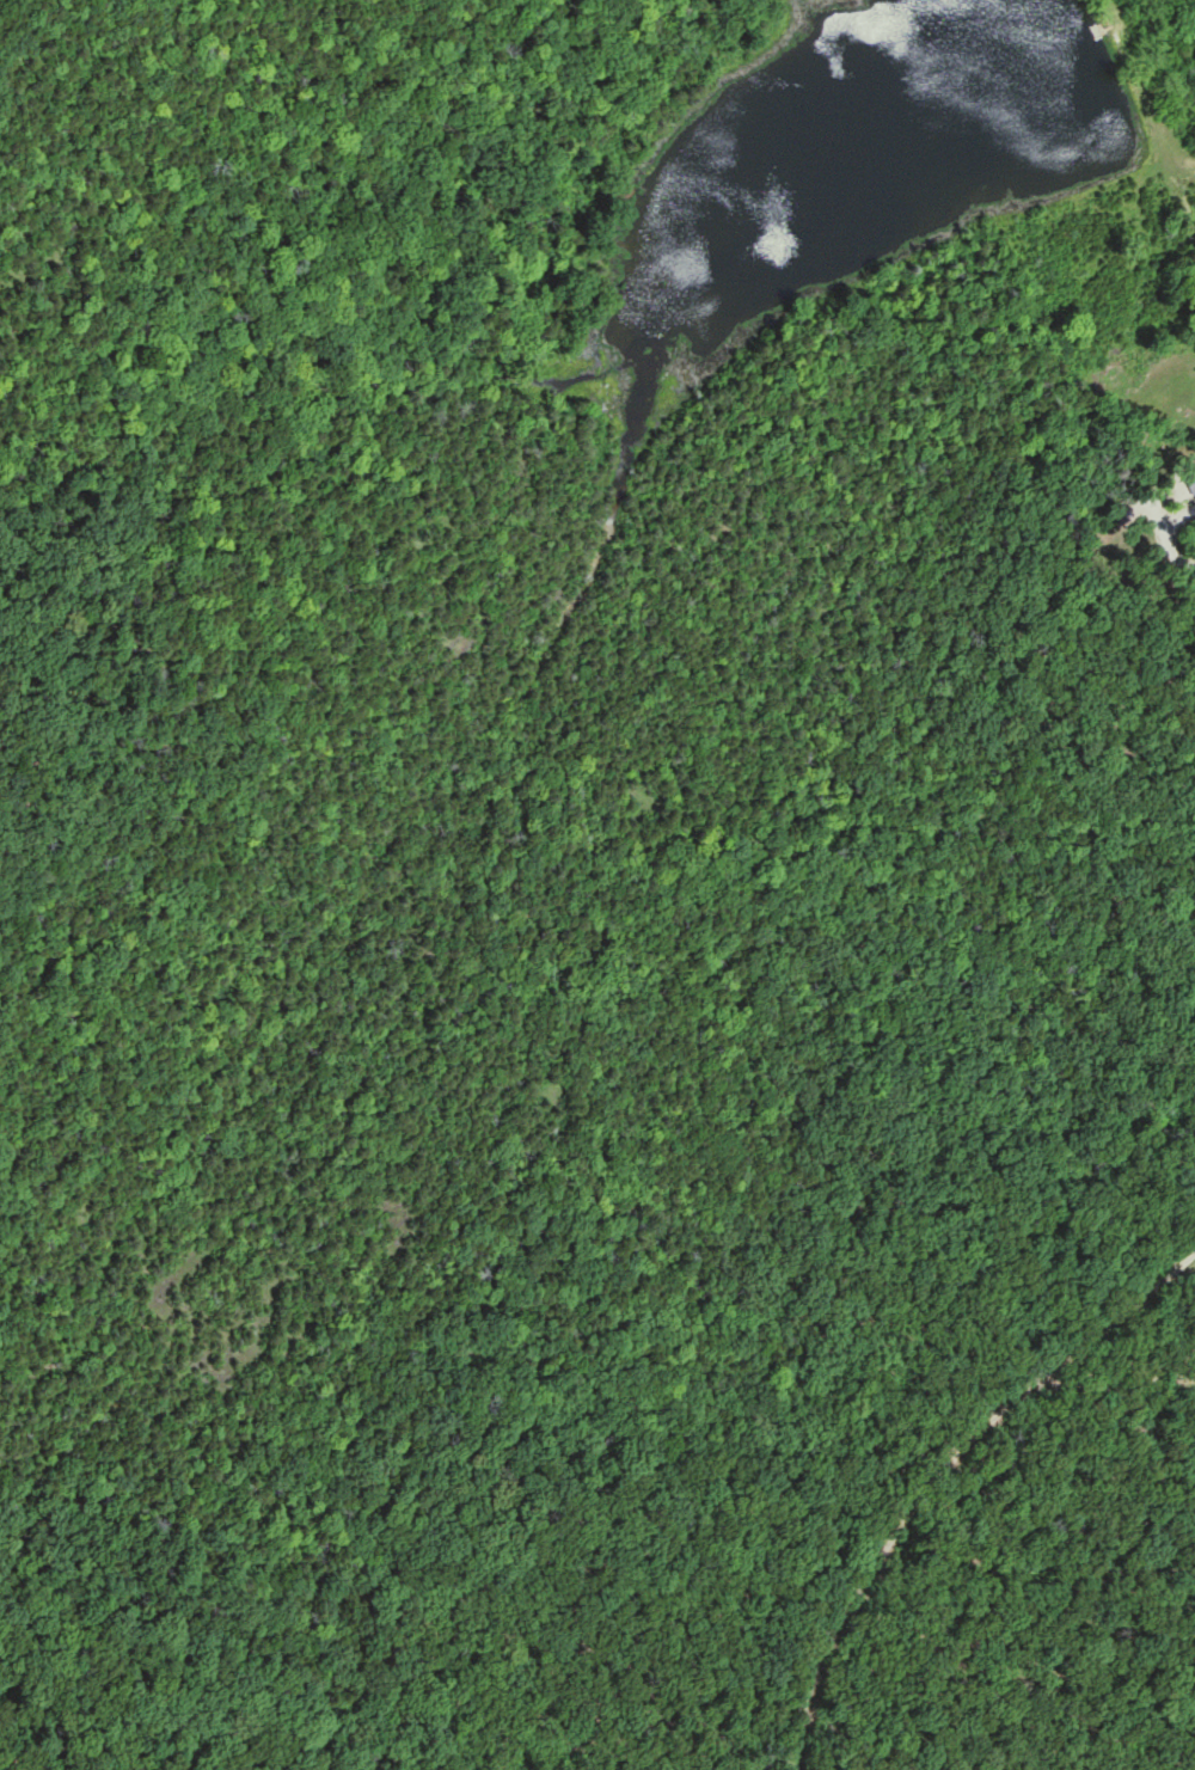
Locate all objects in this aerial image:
building: (1189, 476)
road: (939, 1474)

